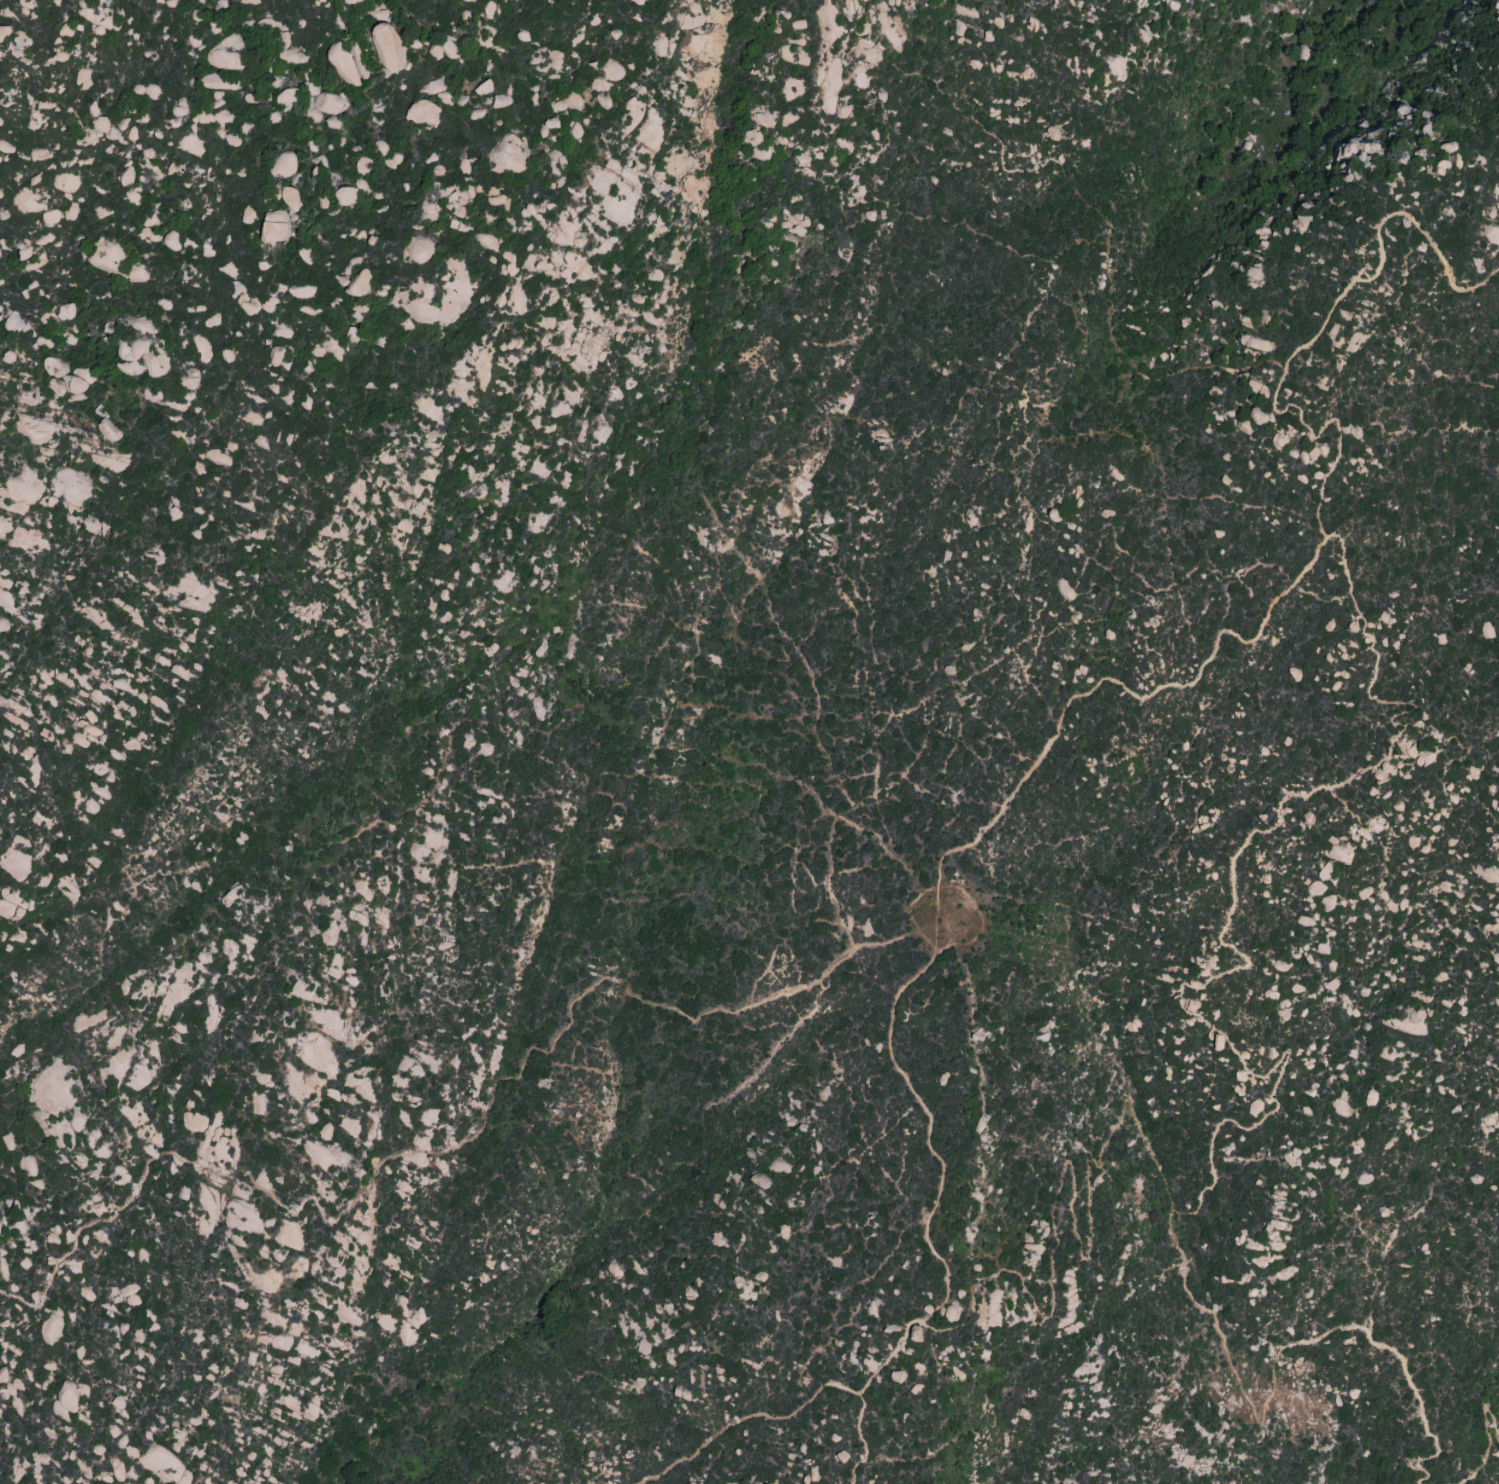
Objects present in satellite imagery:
road: (851, 34)
building: (385, 48)
building: (1116, 68)
building: (483, 88)
building: (151, 90)
building: (499, 100)
building: (328, 103)
building: (843, 111)
building: (99, 125)
building: (283, 164)
road: (1075, 190)
building: (289, 196)
building: (51, 217)
building: (274, 227)
building: (66, 311)
road: (1021, 334)
road: (1314, 334)
road: (724, 348)
building: (65, 375)
building: (1258, 386)
road: (642, 555)
road: (1088, 564)
road: (1084, 595)
building: (3, 624)
building: (1486, 630)
road: (1016, 677)
building: (90, 716)
road: (967, 716)
road: (714, 764)
road: (442, 767)
road: (585, 773)
road: (1021, 782)
road: (925, 794)
road: (193, 813)
road: (672, 822)
road: (812, 849)
road: (910, 873)
building: (6, 904)
road: (909, 917)
building: (1341, 1107)
building: (1491, 1120)
building: (194, 1121)
road: (1, 1168)
road: (56, 1269)
building: (614, 1270)
building: (130, 1295)
building: (915, 1333)
building: (642, 1348)
building: (897, 1376)
building: (65, 1401)
road: (755, 1417)
building: (842, 1456)

